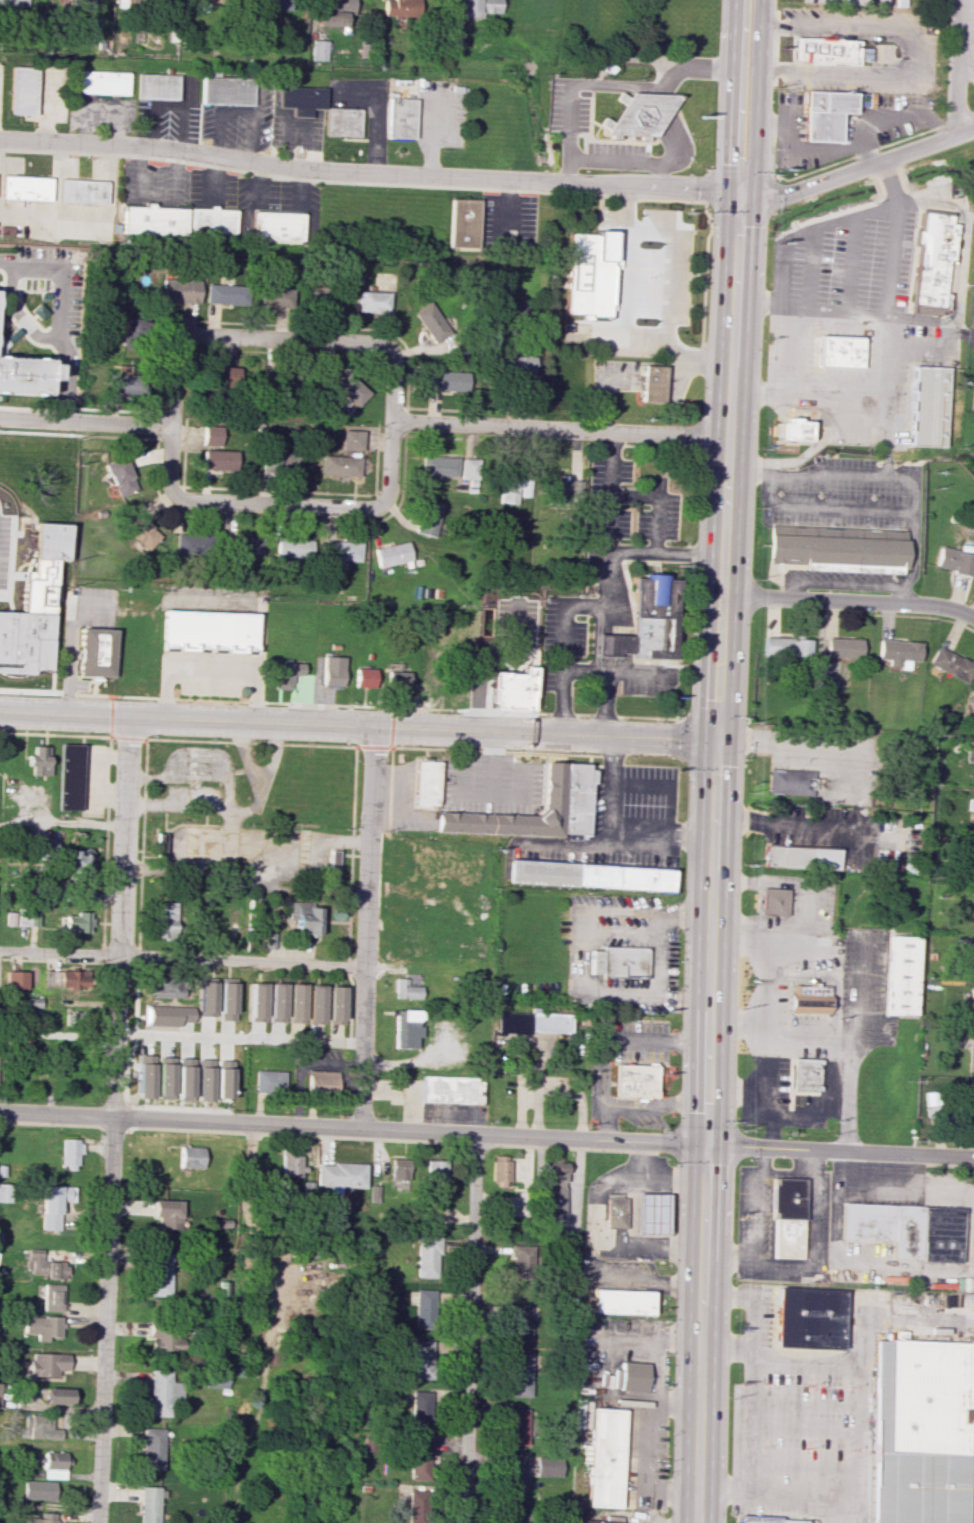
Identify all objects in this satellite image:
building: (155, 0)
building: (86, 1)
building: (208, 1)
building: (14, 2)
building: (271, 4)
building: (338, 5)
building: (478, 7)
building: (401, 11)
building: (330, 18)
road: (967, 31)
building: (815, 48)
building: (319, 50)
road: (913, 53)
road: (958, 66)
road: (966, 68)
building: (103, 82)
road: (606, 85)
building: (158, 86)
building: (24, 90)
building: (226, 90)
road: (729, 96)
road: (755, 97)
building: (301, 99)
road: (973, 112)
building: (637, 113)
building: (822, 113)
building: (400, 118)
road: (957, 119)
building: (343, 121)
road: (785, 123)
road: (670, 130)
road: (430, 136)
road: (852, 144)
road: (867, 153)
road: (857, 154)
road: (625, 159)
road: (707, 171)
road: (739, 175)
road: (491, 178)
road: (886, 181)
road: (704, 187)
building: (25, 188)
building: (82, 191)
traffic signals: (738, 191)
road: (873, 208)
road: (840, 218)
building: (153, 220)
building: (211, 220)
building: (463, 224)
building: (276, 225)
road: (705, 250)
road: (954, 258)
road: (887, 259)
building: (928, 261)
building: (588, 273)
road: (697, 274)
building: (179, 290)
building: (226, 294)
building: (275, 297)
building: (372, 301)
road: (808, 308)
road: (59, 315)
road: (624, 318)
building: (431, 322)
building: (132, 324)
road: (335, 328)
road: (964, 336)
road: (278, 338)
road: (969, 340)
road: (916, 349)
building: (836, 351)
road: (786, 352)
building: (515, 366)
road: (679, 371)
building: (25, 375)
building: (226, 377)
road: (654, 377)
road: (623, 378)
building: (446, 380)
building: (125, 382)
building: (654, 383)
building: (351, 389)
road: (159, 397)
road: (849, 402)
building: (973, 402)
road: (599, 403)
park: (966, 403)
building: (926, 406)
road: (455, 410)
road: (407, 420)
road: (84, 422)
road: (158, 425)
road: (562, 427)
building: (793, 429)
road: (852, 430)
road: (406, 434)
building: (212, 435)
road: (120, 438)
road: (458, 438)
road: (172, 439)
building: (351, 440)
road: (595, 444)
road: (613, 445)
road: (811, 446)
road: (658, 448)
road: (379, 458)
building: (219, 459)
road: (935, 459)
building: (278, 463)
building: (340, 465)
building: (439, 466)
building: (469, 472)
building: (120, 475)
road: (820, 476)
building: (562, 488)
building: (513, 489)
road: (613, 489)
road: (658, 501)
road: (283, 505)
road: (31, 508)
road: (824, 508)
building: (429, 518)
road: (285, 519)
building: (142, 532)
building: (52, 542)
building: (195, 544)
road: (912, 544)
building: (244, 546)
building: (836, 547)
building: (293, 548)
road: (629, 550)
building: (341, 553)
building: (392, 554)
building: (954, 561)
parking lot: (14, 572)
road: (13, 575)
road: (900, 595)
road: (852, 601)
road: (40, 604)
building: (649, 624)
building: (208, 630)
road: (563, 639)
building: (28, 640)
road: (71, 642)
building: (786, 646)
building: (843, 647)
building: (95, 652)
building: (898, 652)
building: (950, 664)
road: (610, 665)
building: (332, 671)
road: (211, 672)
building: (286, 673)
road: (610, 674)
building: (365, 678)
road: (7, 679)
building: (397, 680)
building: (512, 690)
building: (970, 701)
road: (561, 703)
road: (338, 705)
road: (361, 726)
road: (111, 732)
road: (55, 735)
road: (111, 736)
traffic signals: (723, 739)
road: (811, 743)
road: (250, 744)
road: (392, 744)
road: (496, 752)
road: (245, 756)
building: (39, 760)
road: (202, 768)
road: (230, 775)
road: (97, 776)
building: (72, 777)
road: (191, 778)
building: (428, 783)
road: (667, 783)
building: (787, 783)
building: (552, 785)
road: (397, 791)
road: (491, 795)
road: (463, 796)
building: (577, 797)
road: (30, 802)
building: (970, 803)
road: (95, 804)
road: (234, 808)
road: (402, 816)
road: (60, 820)
road: (812, 831)
road: (884, 836)
road: (665, 837)
road: (609, 838)
road: (106, 842)
building: (46, 851)
road: (718, 857)
building: (800, 857)
road: (388, 859)
building: (77, 861)
road: (416, 862)
building: (333, 863)
road: (231, 864)
building: (973, 873)
building: (588, 875)
road: (453, 880)
road: (350, 892)
building: (773, 901)
building: (973, 912)
building: (27, 916)
building: (9, 917)
building: (304, 917)
building: (167, 918)
building: (76, 921)
road: (139, 923)
road: (365, 927)
building: (268, 938)
building: (967, 951)
road: (104, 954)
road: (182, 957)
road: (52, 960)
building: (618, 962)
park: (1, 965)
building: (899, 975)
road: (763, 977)
building: (50, 978)
building: (69, 978)
building: (14, 980)
building: (164, 987)
building: (404, 989)
building: (206, 998)
building: (808, 998)
building: (225, 999)
building: (256, 1002)
building: (276, 1003)
building: (296, 1003)
building: (316, 1004)
building: (335, 1005)
building: (971, 1005)
building: (165, 1015)
building: (531, 1022)
building: (405, 1028)
road: (238, 1037)
road: (623, 1037)
road: (859, 1039)
building: (971, 1054)
building: (169, 1060)
park: (53, 1067)
building: (804, 1073)
building: (144, 1076)
building: (163, 1078)
building: (183, 1078)
building: (202, 1079)
building: (222, 1079)
building: (267, 1081)
building: (321, 1081)
building: (637, 1082)
road: (767, 1083)
building: (442, 1089)
road: (847, 1093)
road: (657, 1106)
building: (964, 1108)
road: (112, 1120)
road: (608, 1124)
road: (353, 1127)
traffic signals: (707, 1146)
road: (840, 1150)
building: (69, 1154)
building: (189, 1157)
road: (761, 1159)
road: (810, 1162)
building: (289, 1165)
building: (435, 1170)
building: (499, 1170)
building: (397, 1174)
road: (797, 1174)
building: (338, 1176)
building: (554, 1186)
building: (4, 1192)
building: (54, 1204)
building: (614, 1212)
building: (166, 1213)
building: (649, 1213)
building: (786, 1218)
building: (906, 1229)
building: (426, 1256)
building: (520, 1258)
building: (44, 1265)
building: (159, 1275)
building: (52, 1297)
road: (755, 1298)
building: (620, 1301)
building: (20, 1306)
building: (424, 1309)
parking lot: (765, 1316)
building: (807, 1319)
building: (518, 1322)
building: (42, 1326)
road: (863, 1328)
road: (469, 1329)
building: (165, 1337)
road: (627, 1341)
building: (419, 1359)
building: (46, 1364)
building: (518, 1374)
building: (630, 1376)
building: (214, 1378)
building: (158, 1393)
building: (57, 1396)
road: (676, 1404)
road: (804, 1404)
building: (420, 1409)
road: (648, 1417)
road: (750, 1422)
parking lot: (792, 1422)
road: (858, 1425)
building: (516, 1426)
building: (40, 1427)
road: (804, 1431)
building: (916, 1432)
building: (152, 1448)
building: (603, 1457)
building: (417, 1460)
building: (53, 1464)
building: (547, 1465)
building: (513, 1478)
building: (38, 1489)
building: (149, 1504)
building: (416, 1506)
road: (837, 1507)
building: (512, 1516)
building: (37, 1518)
building: (767, 1520)
parking lot: (835, 1520)
building: (598, 1521)

